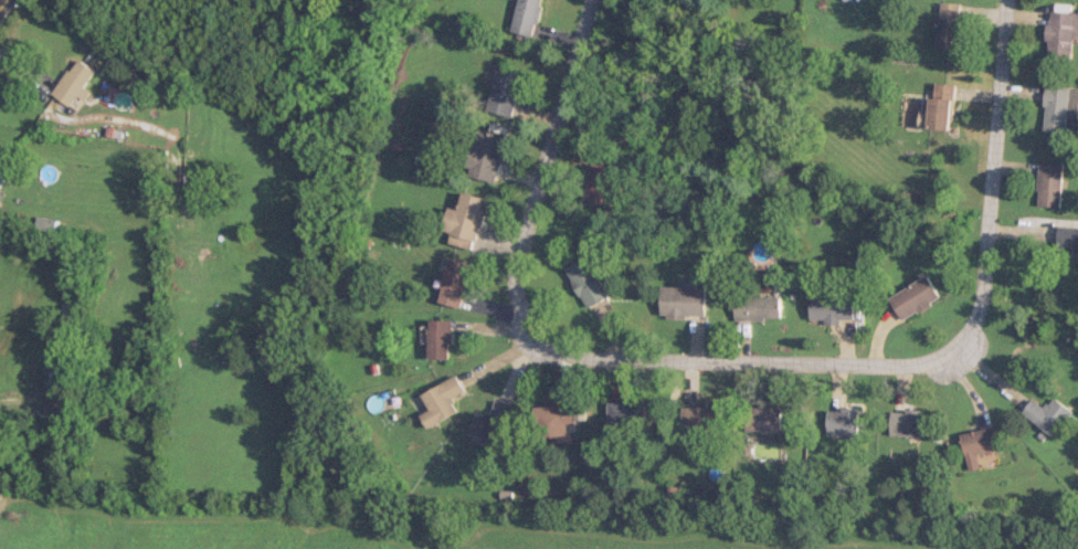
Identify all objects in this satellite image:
road: (0, 0)
building: (527, 17)
building: (949, 25)
building: (1061, 32)
building: (74, 84)
building: (505, 93)
building: (942, 106)
building: (1058, 109)
road: (539, 154)
building: (483, 157)
road: (994, 167)
building: (3, 173)
building: (600, 184)
building: (1049, 186)
building: (465, 221)
building: (1068, 244)
building: (588, 282)
building: (454, 283)
building: (916, 297)
building: (683, 302)
building: (758, 307)
building: (833, 308)
building: (440, 339)
road: (740, 366)
building: (60, 393)
building: (441, 401)
building: (625, 412)
building: (1049, 414)
building: (700, 416)
building: (557, 419)
building: (764, 419)
building: (493, 422)
building: (908, 422)
building: (845, 423)
building: (982, 441)

